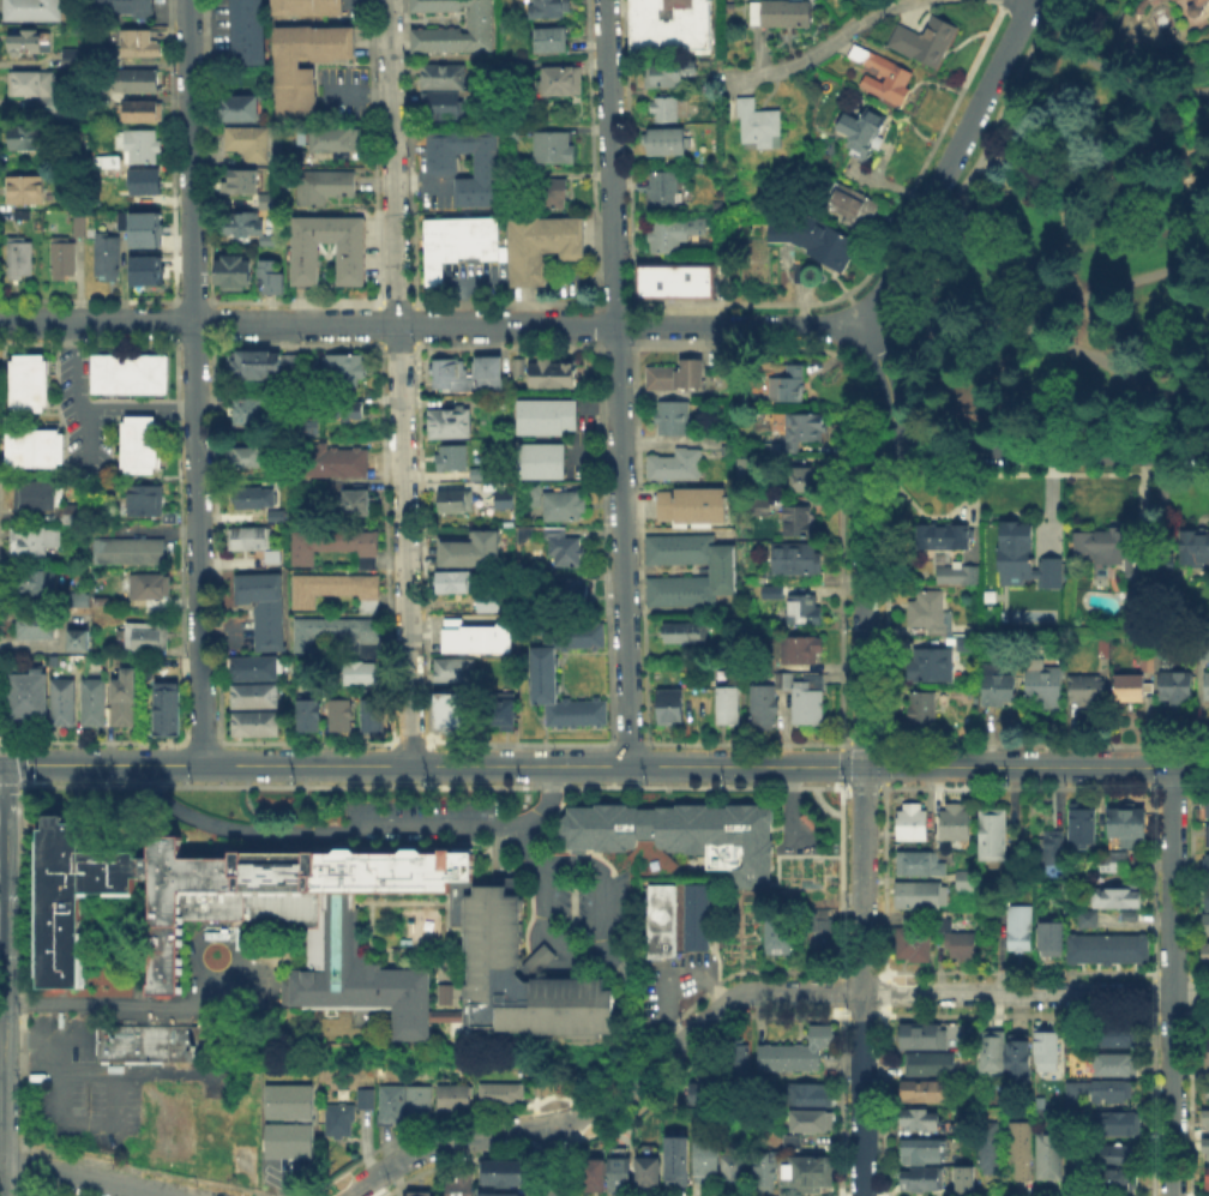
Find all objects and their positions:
building: (122, 6)
building: (305, 6)
building: (546, 7)
building: (1199, 8)
building: (32, 11)
building: (786, 16)
building: (452, 28)
building: (673, 29)
building: (246, 31)
building: (548, 38)
building: (144, 40)
building: (925, 42)
building: (32, 44)
road: (813, 50)
building: (72, 59)
road: (1107, 67)
building: (441, 74)
building: (668, 78)
building: (559, 79)
building: (32, 82)
building: (144, 82)
building: (900, 82)
building: (295, 91)
building: (440, 101)
building: (54, 103)
building: (237, 106)
building: (668, 110)
building: (143, 114)
building: (760, 126)
building: (865, 136)
building: (332, 137)
building: (26, 139)
building: (247, 140)
building: (668, 143)
building: (144, 146)
building: (551, 146)
building: (439, 161)
road: (1166, 161)
road: (948, 162)
building: (109, 163)
building: (242, 179)
road: (1095, 179)
road: (419, 180)
building: (149, 185)
building: (321, 186)
building: (664, 188)
building: (549, 191)
building: (25, 192)
building: (264, 199)
building: (853, 208)
building: (241, 221)
building: (80, 228)
building: (144, 228)
building: (676, 233)
building: (266, 239)
building: (457, 241)
building: (816, 244)
building: (540, 245)
park: (1070, 250)
building: (108, 258)
building: (22, 260)
building: (65, 262)
building: (349, 263)
building: (144, 269)
building: (231, 271)
road: (587, 275)
building: (801, 275)
building: (269, 276)
road: (459, 280)
building: (678, 284)
road: (1037, 314)
road: (429, 320)
road: (1112, 361)
road: (73, 363)
building: (258, 363)
building: (517, 366)
building: (342, 368)
building: (464, 372)
building: (128, 373)
building: (548, 373)
building: (676, 379)
building: (26, 380)
road: (886, 380)
road: (194, 381)
road: (399, 381)
road: (615, 383)
building: (790, 386)
road: (1195, 398)
road: (140, 405)
building: (342, 408)
building: (246, 410)
building: (543, 414)
building: (675, 420)
building: (447, 422)
building: (305, 423)
road: (88, 429)
building: (807, 429)
building: (139, 443)
building: (34, 446)
road: (1047, 450)
building: (246, 455)
building: (450, 456)
building: (539, 459)
building: (332, 461)
building: (676, 467)
building: (751, 470)
building: (476, 473)
building: (804, 481)
building: (34, 494)
building: (530, 494)
building: (252, 495)
building: (144, 498)
building: (503, 498)
building: (353, 499)
building: (452, 499)
building: (560, 504)
building: (693, 507)
building: (764, 510)
building: (272, 515)
building: (801, 523)
building: (246, 536)
building: (946, 539)
building: (31, 540)
building: (332, 543)
building: (559, 545)
building: (128, 549)
building: (469, 549)
building: (1197, 549)
building: (1113, 555)
building: (1025, 557)
building: (800, 563)
building: (1167, 569)
building: (723, 572)
building: (955, 577)
building: (41, 579)
building: (451, 579)
building: (148, 584)
building: (570, 587)
building: (333, 588)
building: (777, 590)
building: (78, 597)
building: (482, 599)
building: (261, 605)
building: (805, 611)
building: (931, 614)
building: (34, 625)
building: (335, 632)
building: (148, 635)
building: (474, 636)
building: (687, 636)
building: (76, 638)
building: (967, 647)
building: (804, 650)
building: (1202, 651)
building: (1150, 665)
building: (251, 667)
building: (451, 667)
building: (932, 668)
building: (356, 671)
building: (540, 672)
building: (1043, 680)
building: (783, 683)
building: (1205, 684)
building: (1178, 689)
building: (1002, 690)
building: (1132, 690)
building: (1088, 691)
building: (25, 692)
building: (252, 693)
building: (122, 696)
building: (61, 701)
building: (91, 701)
building: (451, 703)
building: (810, 703)
building: (673, 707)
building: (729, 707)
building: (764, 707)
building: (166, 708)
building: (498, 708)
building: (924, 709)
building: (337, 713)
building: (369, 713)
building: (306, 714)
building: (253, 721)
road: (314, 765)
road: (919, 768)
building: (1208, 806)
road: (790, 807)
road: (862, 816)
building: (914, 824)
building: (1082, 824)
building: (1129, 824)
building: (957, 825)
road: (354, 829)
building: (678, 833)
building: (994, 834)
building: (1208, 834)
road: (527, 846)
building: (1053, 851)
building: (919, 866)
building: (1115, 866)
building: (1208, 867)
building: (967, 881)
building: (920, 896)
building: (1113, 896)
building: (1204, 896)
building: (1126, 914)
building: (1085, 916)
building: (699, 919)
building: (664, 922)
building: (317, 927)
building: (1207, 927)
building: (1021, 930)
building: (781, 933)
building: (822, 933)
road: (230, 937)
building: (1048, 937)
road: (601, 942)
building: (962, 946)
building: (1105, 946)
building: (912, 948)
building: (1207, 957)
road: (1172, 981)
road: (2, 991)
building: (444, 992)
road: (1035, 994)
road: (1, 999)
road: (114, 1003)
road: (667, 1005)
building: (1118, 1038)
building: (925, 1039)
building: (149, 1041)
building: (1048, 1045)
building: (1205, 1048)
building: (993, 1053)
building: (798, 1054)
building: (1017, 1059)
building: (738, 1064)
building: (932, 1066)
building: (1118, 1068)
road: (107, 1074)
building: (708, 1093)
building: (1113, 1093)
building: (927, 1094)
building: (1073, 1095)
building: (362, 1096)
building: (503, 1098)
building: (810, 1098)
road: (608, 1100)
building: (456, 1101)
building: (422, 1105)
building: (391, 1107)
building: (217, 1122)
building: (307, 1123)
building: (811, 1123)
building: (921, 1123)
building: (1208, 1123)
building: (342, 1124)
building: (1115, 1125)
building: (793, 1144)
building: (991, 1152)
building: (1208, 1152)
building: (922, 1153)
building: (1022, 1153)
building: (1120, 1154)
building: (1052, 1158)
building: (248, 1159)
road: (552, 1159)
building: (708, 1162)
building: (679, 1164)
building: (649, 1172)
building: (766, 1172)
building: (807, 1172)
building: (735, 1173)
building: (593, 1174)
building: (505, 1176)
building: (620, 1176)
building: (1205, 1177)
road: (90, 1178)
building: (924, 1179)
building: (1120, 1179)
building: (967, 1182)
building: (462, 1185)
building: (417, 1192)
building: (500, 1194)

